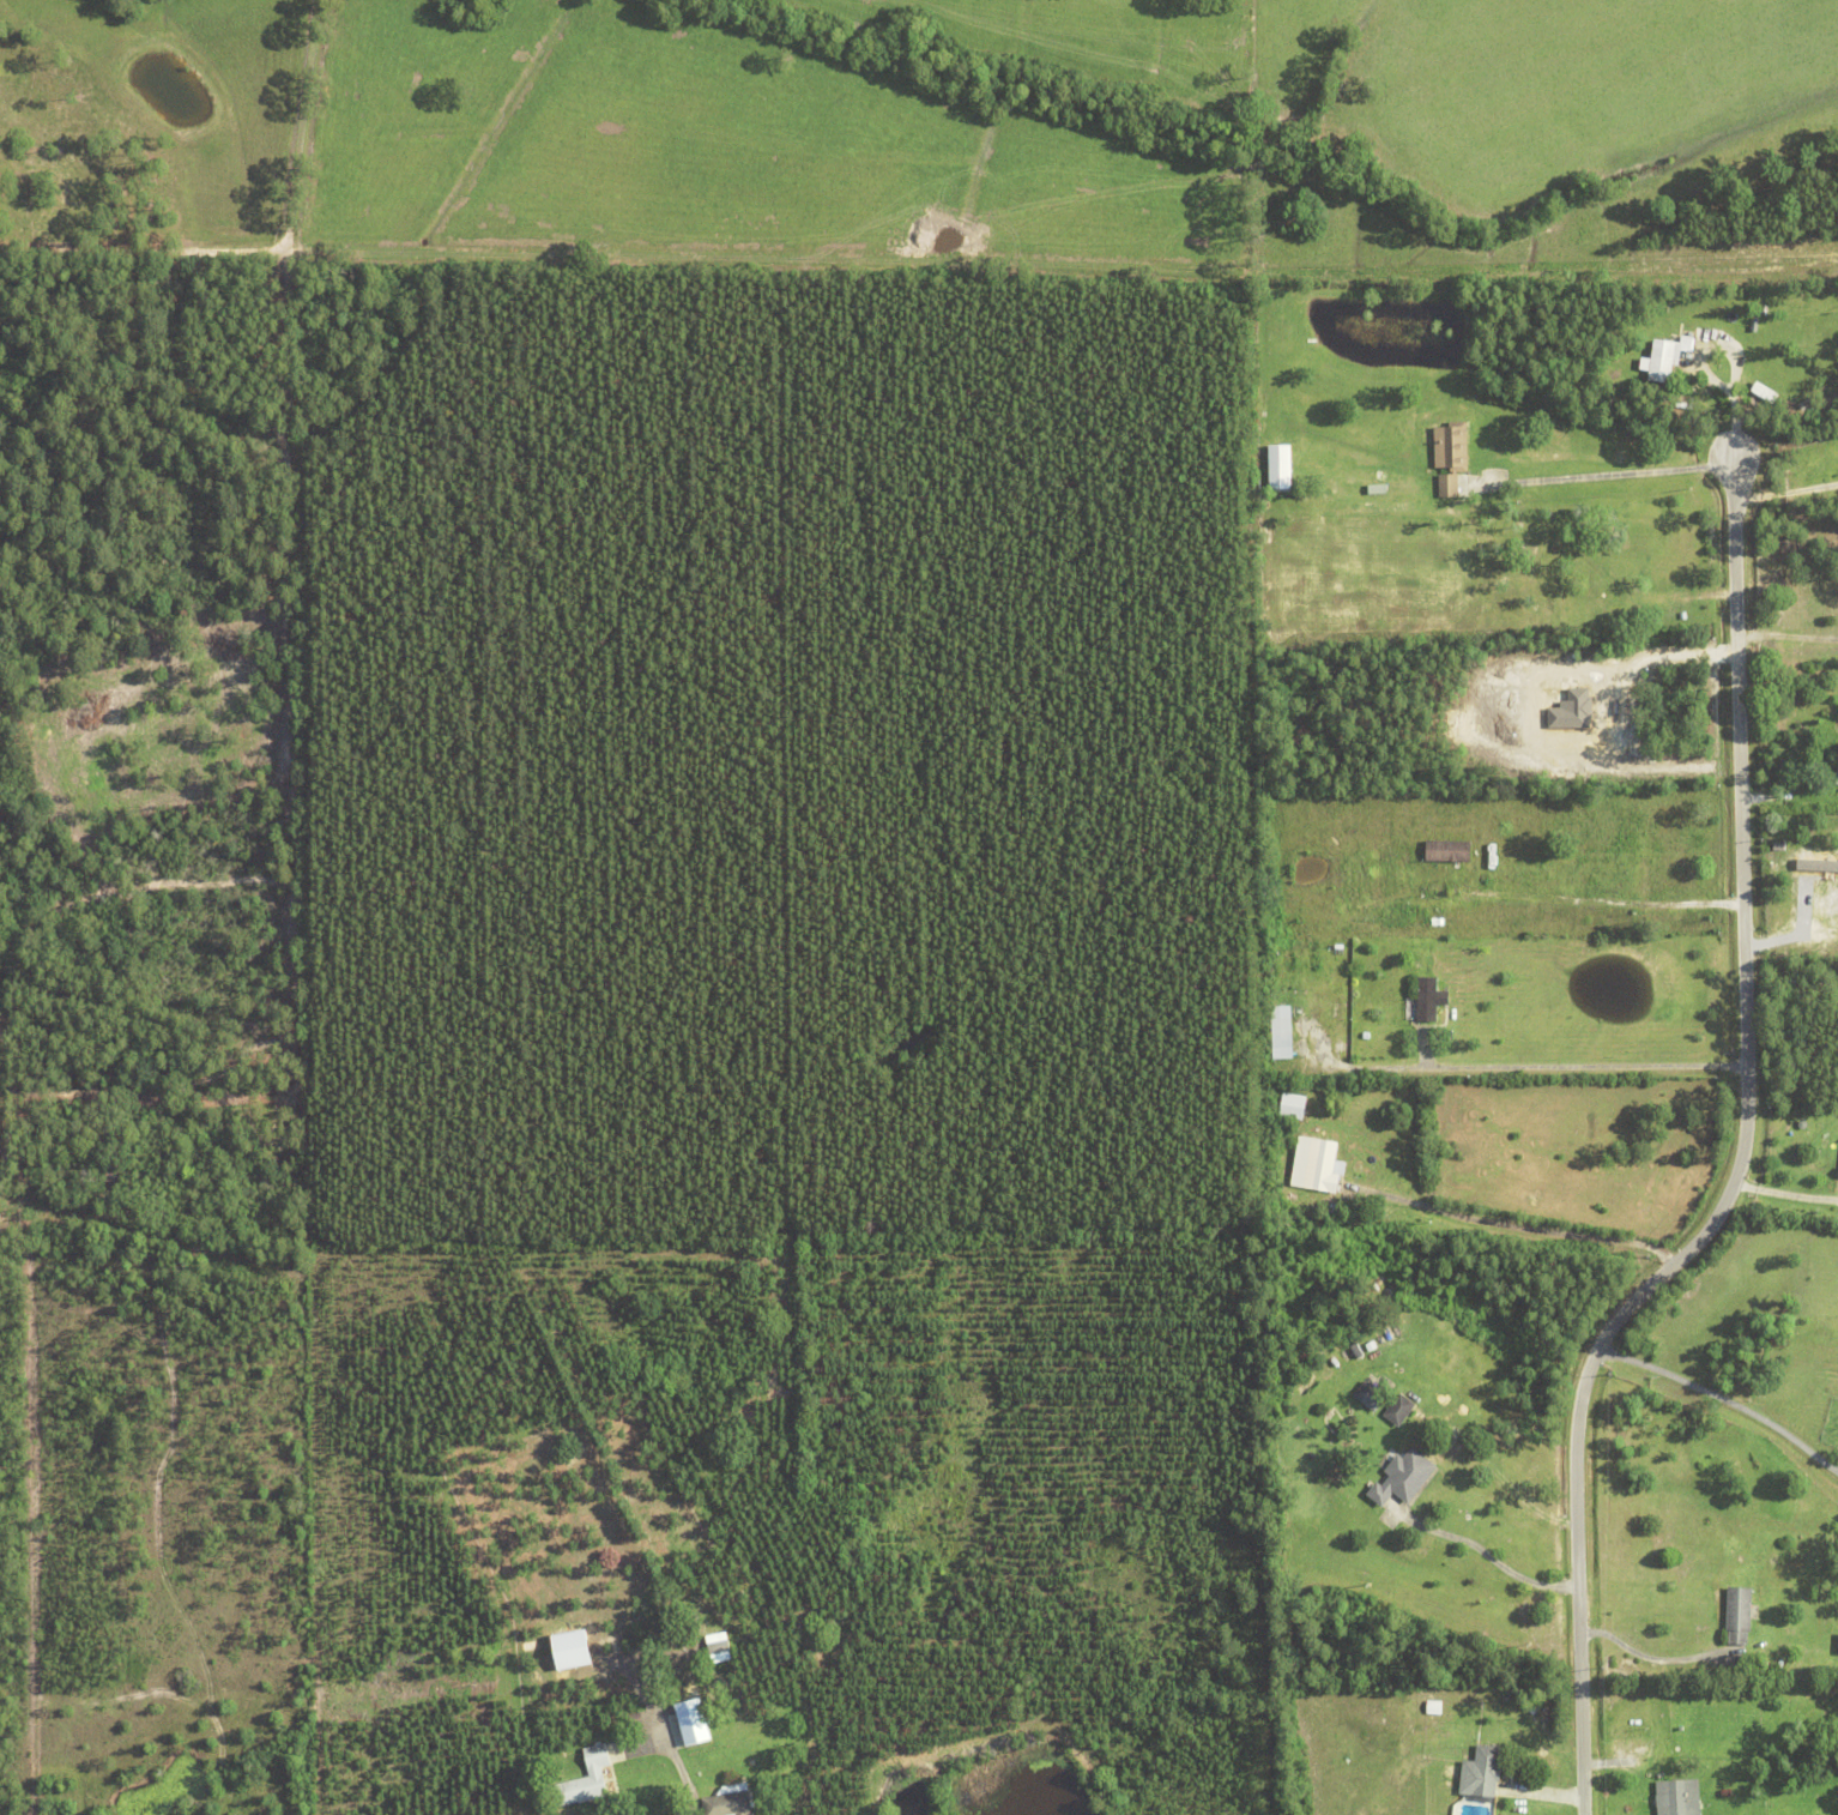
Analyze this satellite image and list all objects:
building: (1752, 326)
building: (1675, 332)
building: (1703, 334)
building: (1686, 340)
building: (1662, 362)
building: (1451, 458)
building: (1281, 466)
road: (1612, 476)
building: (1264, 484)
road: (1786, 492)
building: (1290, 495)
building: (1625, 607)
building: (1565, 620)
building: (1837, 779)
building: (1449, 854)
building: (1644, 867)
building: (1661, 890)
building: (1822, 891)
building: (1600, 917)
building: (1834, 942)
road: (1792, 965)
building: (1429, 1001)
building: (1280, 1031)
road: (1585, 1068)
building: (1292, 1105)
building: (1803, 1126)
building: (155, 1128)
building: (176, 1129)
building: (156, 1142)
road: (1742, 1165)
building: (147, 1166)
building: (1324, 1169)
building: (206, 1170)
building: (71, 1172)
building: (1837, 1172)
building: (114, 1175)
road: (1785, 1194)
building: (1338, 1212)
road: (1529, 1236)
building: (1356, 1347)
building: (1372, 1397)
road: (1721, 1405)
building: (1399, 1407)
building: (1402, 1475)
road: (1482, 1555)
building: (1739, 1606)
building: (717, 1642)
building: (1836, 1644)
building: (570, 1653)
road: (1645, 1658)
building: (1532, 1708)
building: (635, 1717)
building: (685, 1721)
building: (1473, 1731)
building: (1481, 1771)
building: (1451, 1773)
building: (581, 1789)
road: (683, 1790)
building: (1725, 1792)
building: (1677, 1796)
building: (730, 1801)

